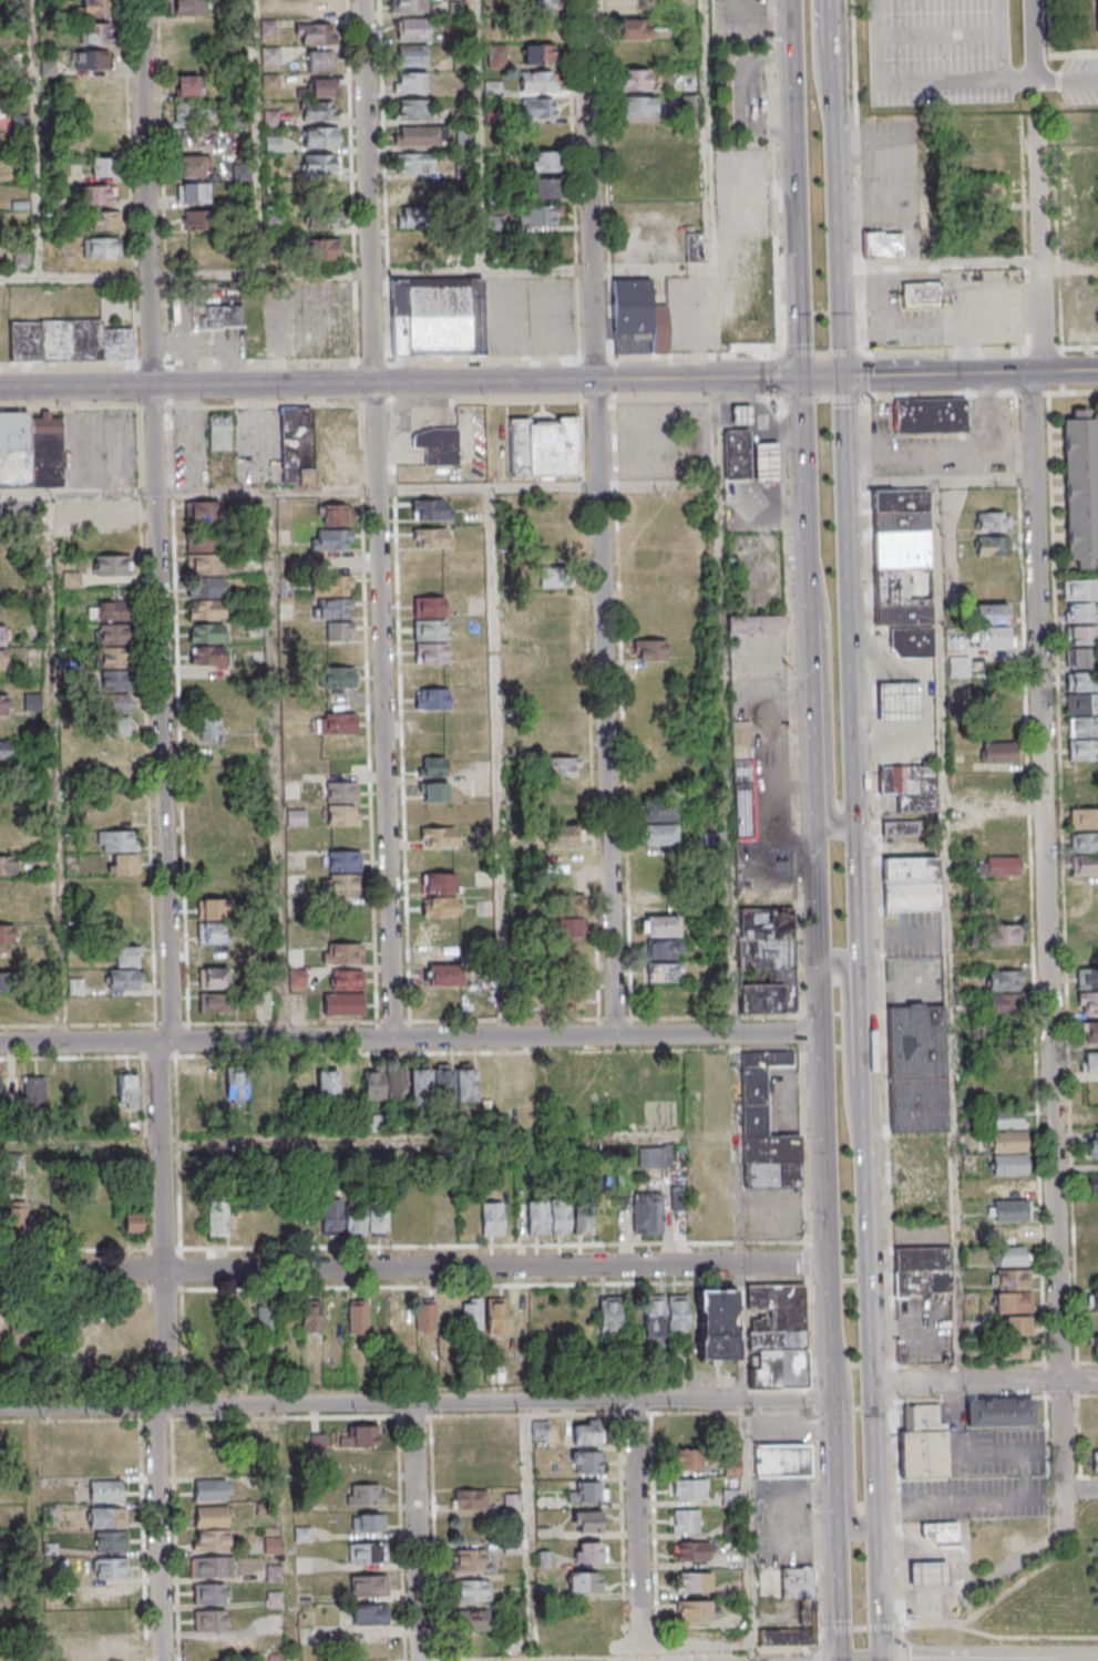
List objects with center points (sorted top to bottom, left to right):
building: (1097, 1)
building: (408, 6)
building: (541, 6)
building: (187, 7)
building: (626, 7)
building: (95, 8)
building: (318, 8)
parking lot: (740, 21)
building: (411, 28)
building: (634, 29)
building: (98, 32)
building: (315, 33)
road: (937, 34)
road: (1000, 40)
road: (1034, 40)
parking lot: (940, 52)
building: (538, 53)
road: (1066, 53)
building: (411, 55)
building: (96, 60)
building: (317, 60)
road: (821, 64)
road: (834, 64)
road: (1067, 79)
building: (635, 80)
road: (917, 80)
building: (536, 81)
parking lot: (1080, 81)
building: (410, 82)
building: (187, 84)
building: (318, 87)
building: (638, 106)
building: (410, 109)
building: (538, 109)
building: (318, 111)
building: (193, 112)
building: (1087, 125)
building: (420, 135)
road: (482, 135)
road: (260, 136)
road: (39, 137)
building: (320, 137)
building: (462, 137)
building: (273, 144)
building: (543, 161)
building: (639, 161)
building: (415, 163)
building: (320, 164)
building: (192, 166)
building: (101, 167)
road: (856, 176)
parking lot: (892, 176)
road: (604, 178)
road: (572, 179)
road: (352, 180)
road: (384, 180)
road: (129, 184)
road: (161, 185)
building: (544, 188)
road: (801, 188)
building: (419, 189)
road: (714, 189)
building: (192, 192)
building: (94, 195)
building: (538, 215)
building: (322, 217)
building: (418, 218)
building: (195, 220)
building: (103, 221)
road: (594, 241)
building: (883, 245)
road: (151, 247)
building: (101, 248)
building: (324, 249)
road: (840, 251)
road: (942, 264)
road: (297, 271)
building: (922, 295)
building: (637, 312)
building: (222, 317)
building: (437, 317)
road: (904, 329)
road: (860, 331)
road: (507, 333)
building: (69, 340)
road: (1080, 347)
road: (1044, 348)
road: (947, 350)
road: (823, 353)
road: (694, 354)
road: (594, 358)
road: (288, 364)
road: (971, 373)
road: (825, 375)
traffic signals: (844, 375)
road: (869, 375)
traffic signals: (808, 376)
road: (403, 382)
road: (827, 399)
building: (930, 415)
building: (745, 417)
building: (219, 432)
parking lot: (951, 444)
building: (318, 445)
building: (438, 445)
building: (544, 446)
building: (31, 450)
road: (1015, 452)
road: (962, 453)
building: (740, 457)
building: (769, 465)
road: (810, 466)
road: (940, 483)
building: (1081, 487)
road: (360, 491)
building: (987, 498)
building: (432, 509)
building: (107, 512)
building: (202, 512)
building: (332, 514)
road: (381, 519)
building: (993, 520)
building: (432, 537)
building: (333, 539)
building: (993, 556)
building: (903, 557)
building: (112, 566)
building: (205, 576)
building: (553, 576)
building: (332, 586)
building: (1, 589)
building: (1079, 589)
road: (850, 600)
building: (989, 603)
building: (335, 608)
building: (1078, 612)
building: (428, 618)
building: (752, 629)
building: (339, 631)
building: (206, 632)
building: (1, 636)
building: (992, 637)
building: (914, 644)
building: (1079, 647)
building: (649, 650)
building: (338, 652)
building: (431, 652)
building: (206, 656)
building: (2, 659)
building: (338, 680)
building: (1080, 694)
building: (431, 699)
road: (831, 699)
building: (114, 704)
building: (902, 705)
building: (338, 726)
building: (1082, 728)
building: (211, 731)
building: (3, 732)
building: (341, 746)
building: (997, 754)
road: (610, 759)
building: (1082, 761)
road: (502, 763)
road: (281, 766)
building: (432, 766)
road: (58, 770)
road: (168, 770)
building: (565, 777)
building: (742, 781)
building: (910, 787)
building: (433, 791)
building: (340, 792)
road: (820, 794)
building: (1084, 796)
building: (657, 811)
building: (342, 816)
building: (1084, 818)
road: (731, 821)
building: (1000, 822)
road: (796, 823)
traffic signals: (858, 825)
building: (901, 828)
building: (658, 834)
building: (562, 835)
building: (439, 836)
building: (6, 843)
building: (1084, 843)
building: (997, 844)
building: (120, 850)
building: (345, 859)
building: (1084, 865)
building: (8, 866)
building: (998, 866)
road: (1044, 880)
road: (879, 881)
building: (439, 883)
building: (341, 884)
building: (911, 884)
building: (7, 899)
building: (439, 906)
building: (564, 907)
building: (212, 920)
building: (661, 926)
building: (440, 929)
road: (861, 929)
road: (951, 932)
building: (1088, 932)
building: (661, 949)
building: (572, 950)
building: (766, 951)
building: (348, 953)
building: (125, 956)
building: (1088, 968)
building: (1004, 970)
building: (663, 972)
building: (442, 974)
building: (486, 976)
building: (214, 978)
building: (122, 979)
building: (347, 980)
building: (75, 986)
building: (8, 993)
building: (567, 994)
building: (215, 1002)
building: (1087, 1002)
building: (343, 1004)
road: (724, 1033)
building: (1089, 1033)
road: (310, 1040)
road: (851, 1054)
building: (1089, 1064)
building: (917, 1069)
building: (626, 1081)
building: (420, 1083)
building: (534, 1083)
building: (80, 1084)
building: (103, 1084)
building: (328, 1085)
building: (246, 1086)
building: (127, 1090)
building: (34, 1091)
building: (1089, 1116)
building: (765, 1126)
building: (1092, 1145)
building: (654, 1158)
building: (920, 1174)
building: (1092, 1184)
building: (1008, 1187)
building: (647, 1213)
road: (832, 1216)
building: (16, 1217)
building: (537, 1217)
building: (561, 1217)
building: (40, 1218)
building: (216, 1218)
building: (491, 1218)
building: (445, 1219)
building: (353, 1220)
building: (378, 1220)
building: (331, 1221)
building: (131, 1224)
building: (193, 1224)
building: (584, 1224)
building: (1091, 1232)
road: (417, 1266)
building: (922, 1272)
building: (1012, 1291)
building: (1091, 1300)
building: (471, 1313)
building: (505, 1314)
building: (608, 1314)
building: (665, 1314)
building: (424, 1316)
building: (310, 1317)
building: (357, 1317)
building: (716, 1324)
building: (1014, 1325)
road: (746, 1332)
building: (778, 1335)
building: (1095, 1345)
road: (871, 1349)
building: (1013, 1349)
road: (172, 1352)
road: (1087, 1361)
road: (1059, 1362)
road: (968, 1364)
road: (1044, 1379)
road: (1077, 1379)
road: (985, 1381)
road: (893, 1382)
road: (1060, 1395)
road: (1088, 1395)
road: (968, 1397)
road: (737, 1401)
road: (524, 1403)
road: (205, 1406)
building: (998, 1412)
road: (960, 1420)
building: (540, 1430)
building: (585, 1432)
building: (357, 1435)
road: (851, 1435)
building: (925, 1445)
building: (468, 1453)
building: (687, 1457)
building: (585, 1461)
building: (782, 1461)
building: (1095, 1461)
road: (838, 1476)
building: (688, 1489)
building: (106, 1490)
building: (209, 1490)
building: (584, 1492)
road: (1079, 1492)
building: (366, 1494)
building: (470, 1498)
road: (958, 1500)
road: (902, 1513)
building: (211, 1516)
building: (106, 1517)
building: (685, 1520)
building: (586, 1521)
building: (367, 1523)
road: (638, 1523)
road: (414, 1531)
road: (530, 1531)
building: (942, 1533)
building: (302, 1534)
building: (209, 1539)
building: (110, 1540)
building: (588, 1551)
building: (690, 1551)
building: (365, 1552)
building: (473, 1559)
building: (212, 1567)
building: (111, 1568)
building: (928, 1571)
road: (753, 1579)
building: (692, 1581)
building: (584, 1582)
building: (796, 1582)
building: (369, 1585)
building: (471, 1590)
building: (211, 1593)
road: (842, 1608)
building: (691, 1610)
building: (369, 1613)
building: (472, 1619)
building: (209, 1620)
building: (113, 1621)
road: (859, 1628)
road: (999, 1636)
building: (786, 1638)
road: (903, 1643)
building: (113, 1648)
road: (818, 1653)

